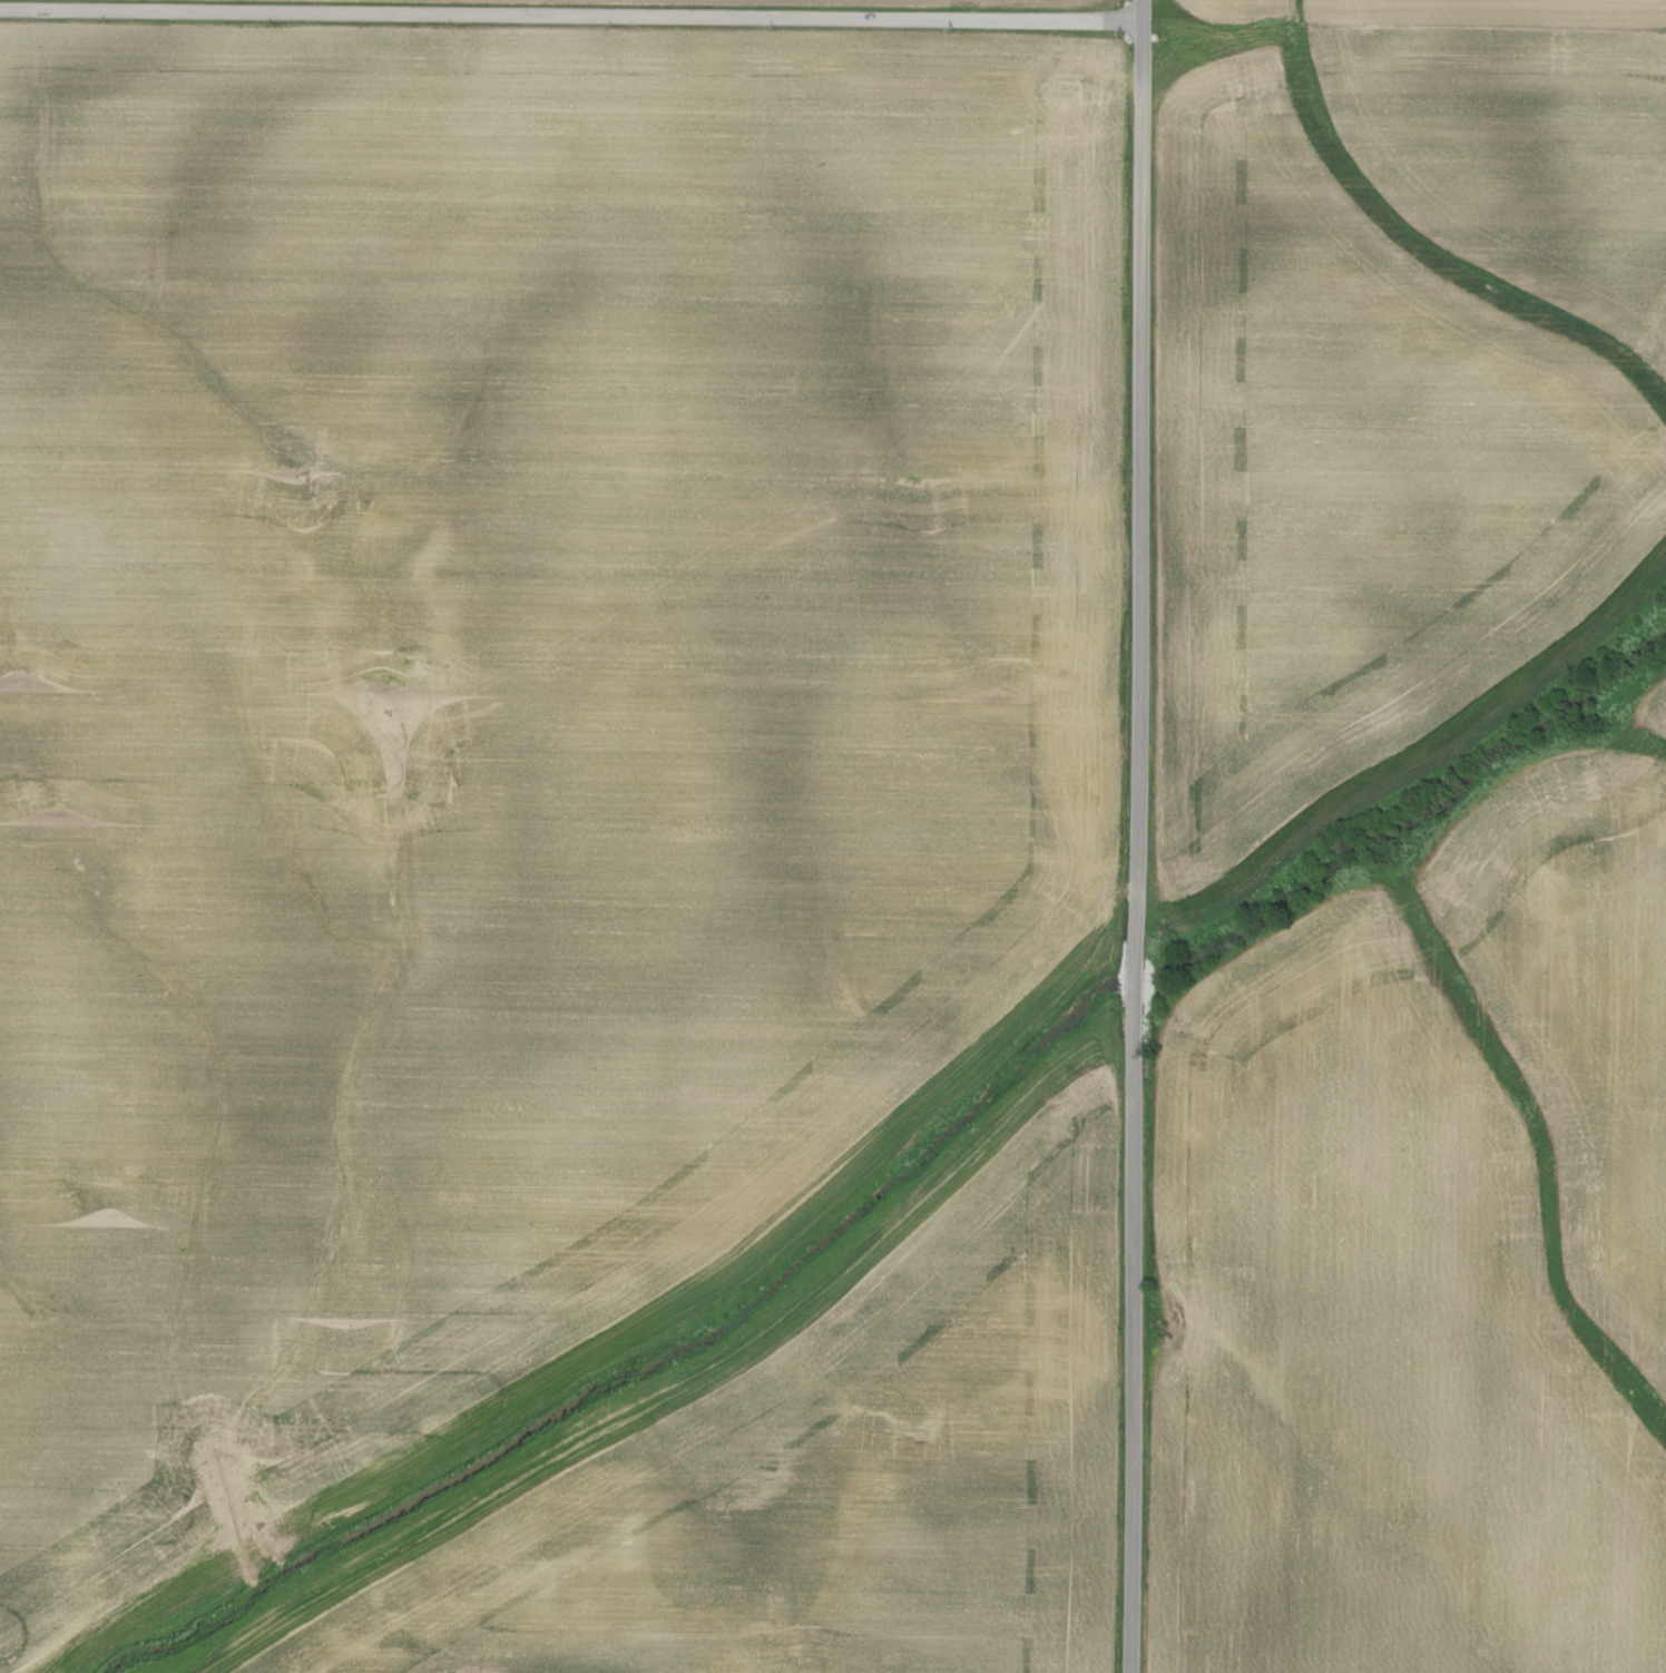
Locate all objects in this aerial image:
road: (570, 16)
road: (1136, 836)

